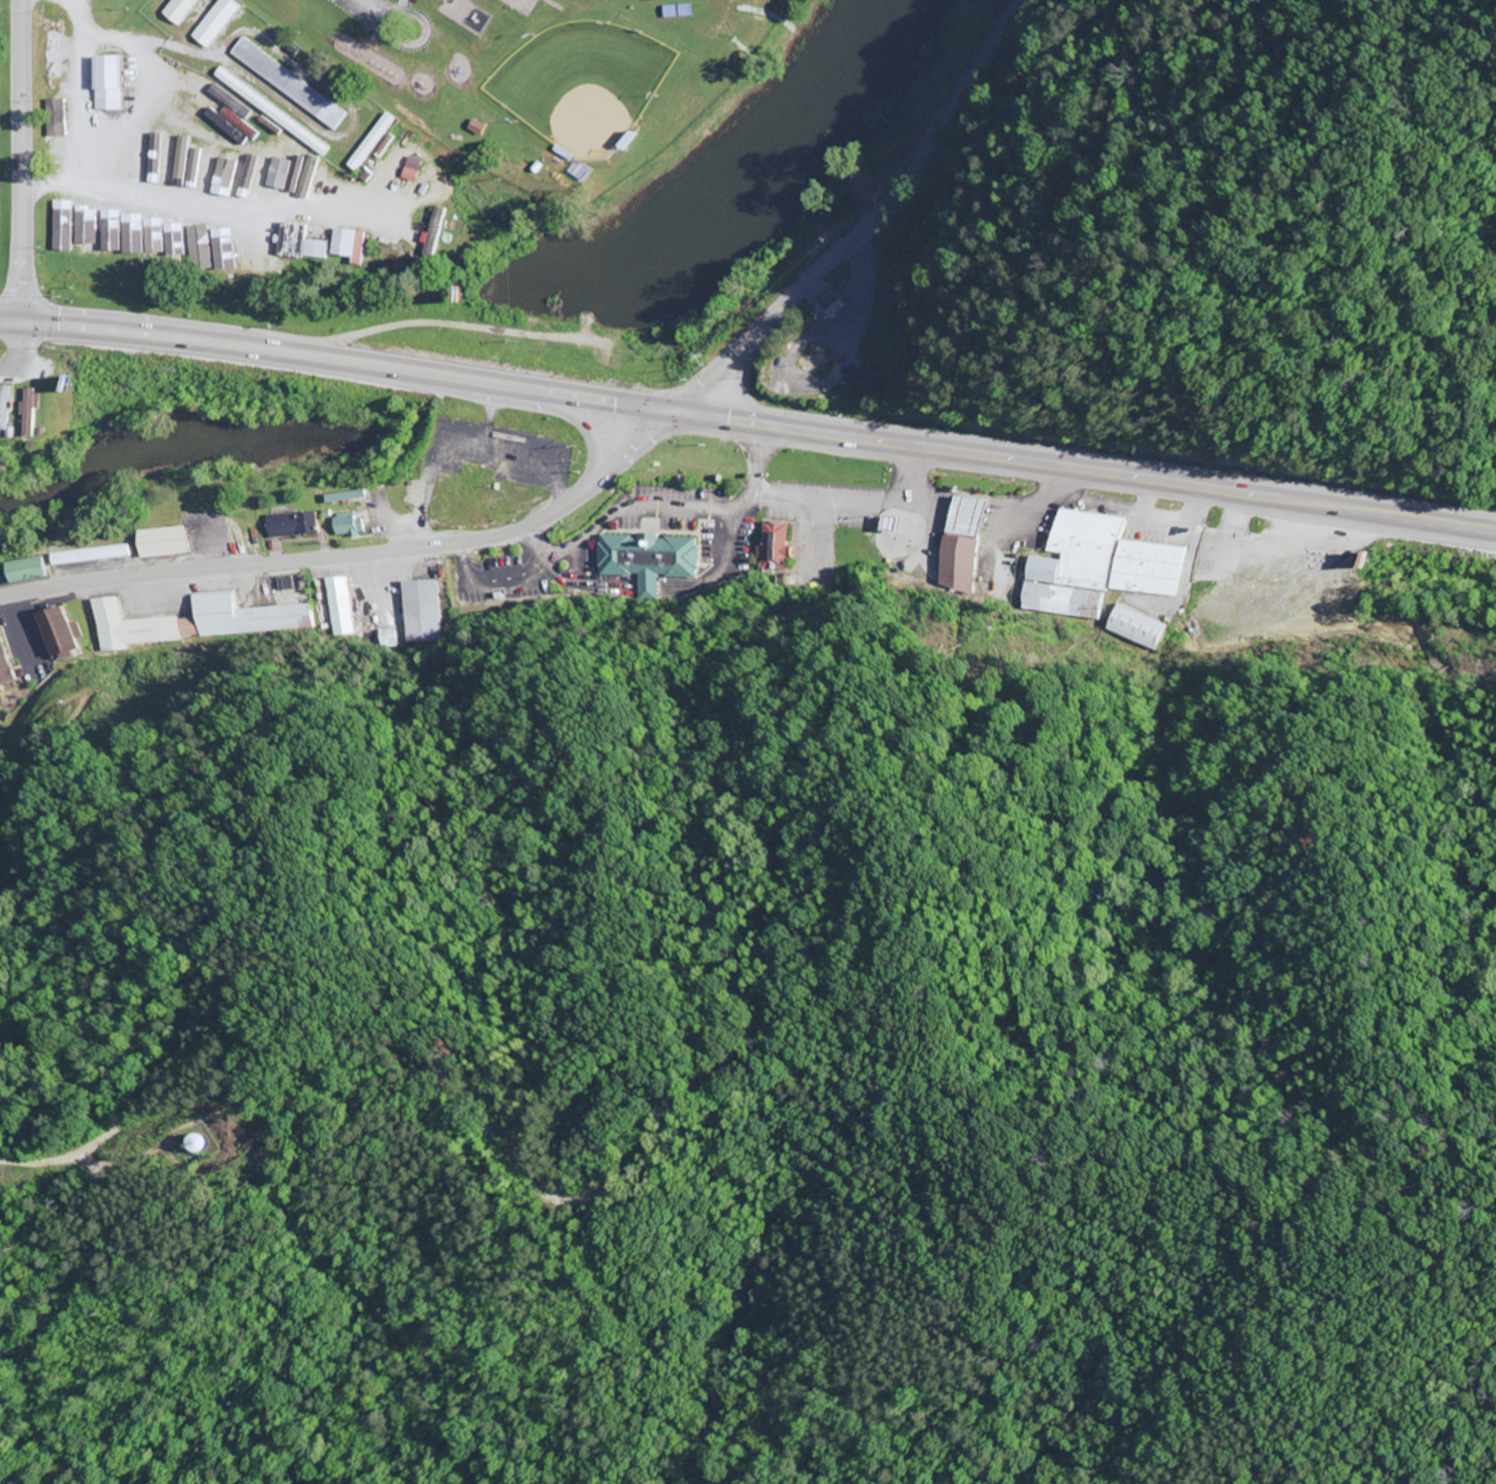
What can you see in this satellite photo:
building: (178, 11)
building: (687, 11)
building: (671, 12)
building: (214, 23)
building: (107, 84)
building: (288, 84)
park: (582, 84)
building: (201, 88)
building: (272, 112)
building: (55, 118)
building: (238, 124)
building: (371, 143)
building: (140, 149)
building: (126, 150)
building: (151, 158)
road: (24, 162)
building: (190, 168)
building: (208, 168)
building: (411, 170)
building: (246, 173)
building: (270, 173)
building: (287, 181)
building: (84, 226)
road: (868, 226)
building: (64, 228)
building: (435, 231)
building: (130, 235)
building: (174, 240)
building: (347, 243)
building: (199, 246)
building: (223, 250)
building: (316, 250)
traffic signals: (26, 325)
road: (25, 355)
road: (334, 361)
building: (858, 380)
building: (5, 411)
traffic signals: (668, 412)
road: (1081, 474)
building: (348, 497)
building: (295, 526)
building: (351, 526)
building: (166, 544)
building: (961, 544)
building: (775, 545)
road: (355, 555)
building: (96, 556)
building: (647, 559)
building: (1097, 568)
building: (29, 571)
building: (338, 607)
building: (421, 612)
building: (193, 623)
building: (1139, 628)
building: (56, 634)
building: (383, 639)
building: (3, 667)
building: (0, 693)
road: (171, 990)
building: (191, 1146)

